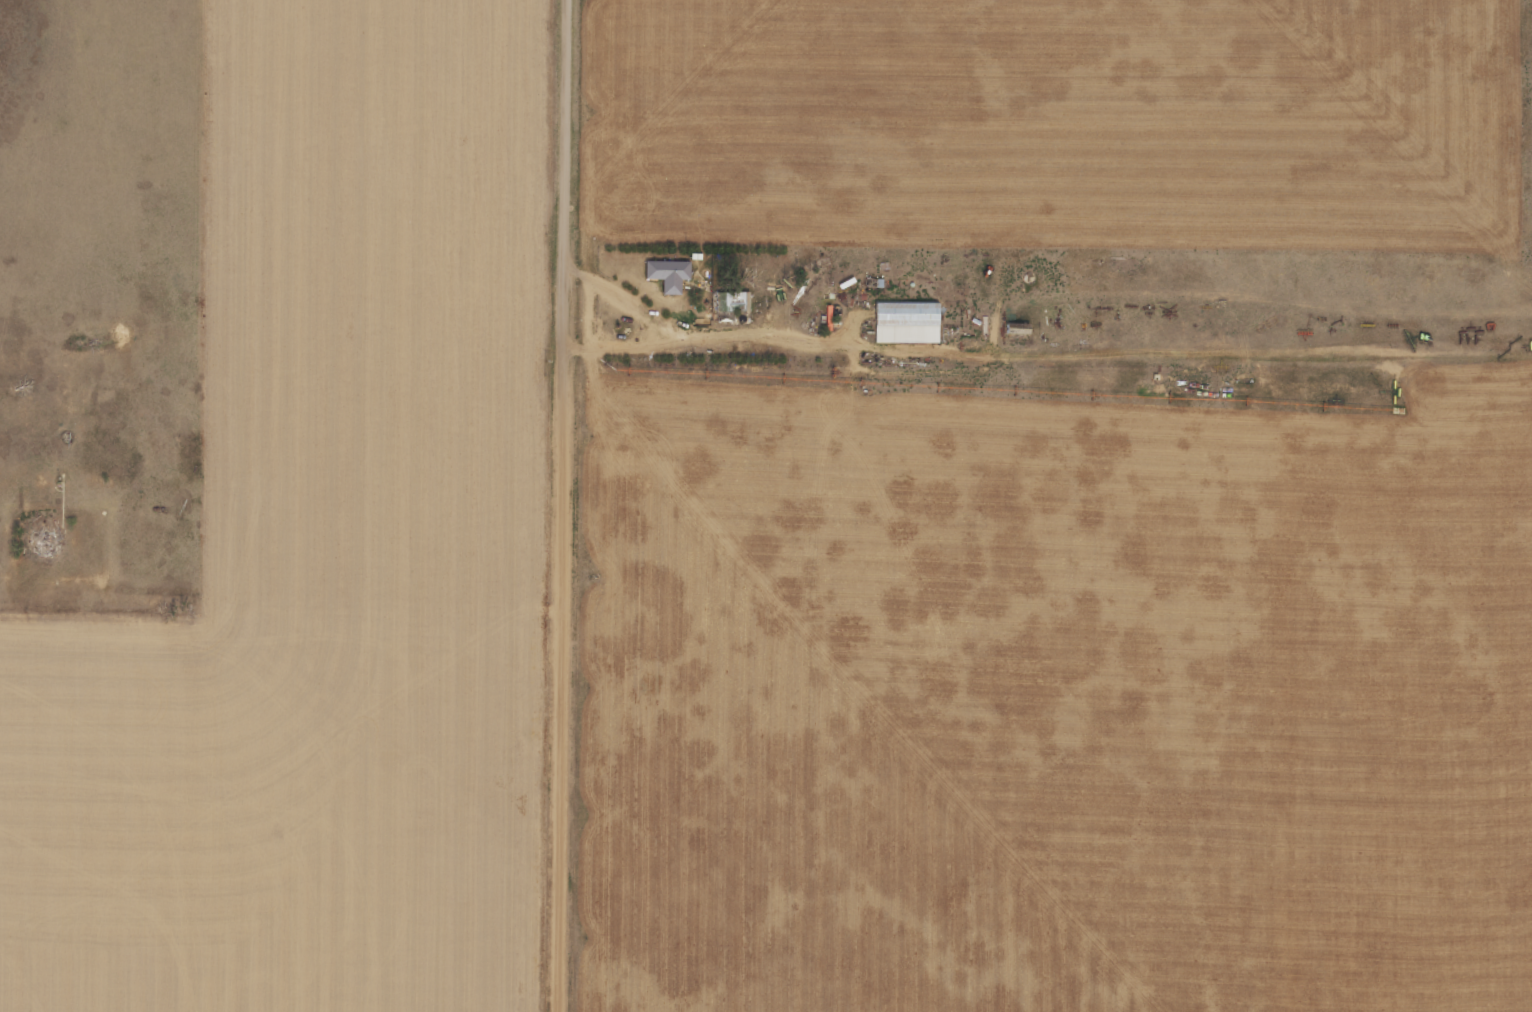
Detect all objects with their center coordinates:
building: (670, 273)
building: (909, 322)
road: (564, 506)

